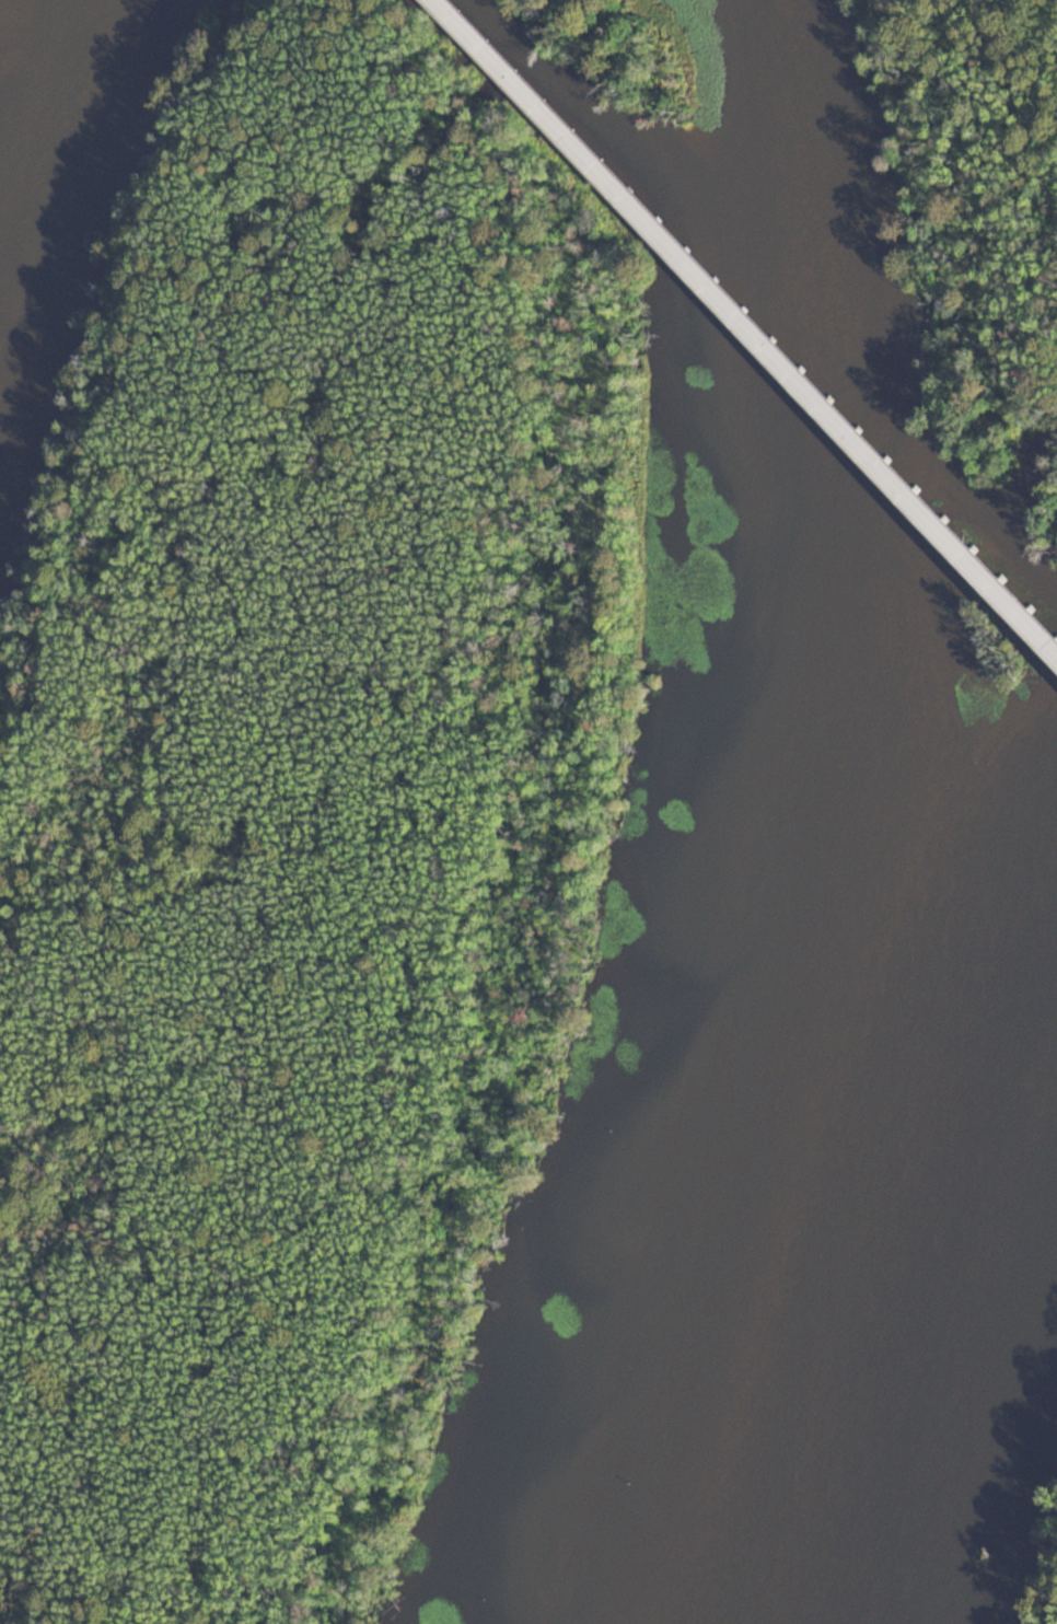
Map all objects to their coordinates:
river: (8, 27)
road: (747, 322)
building: (1035, 635)
river: (863, 1288)

